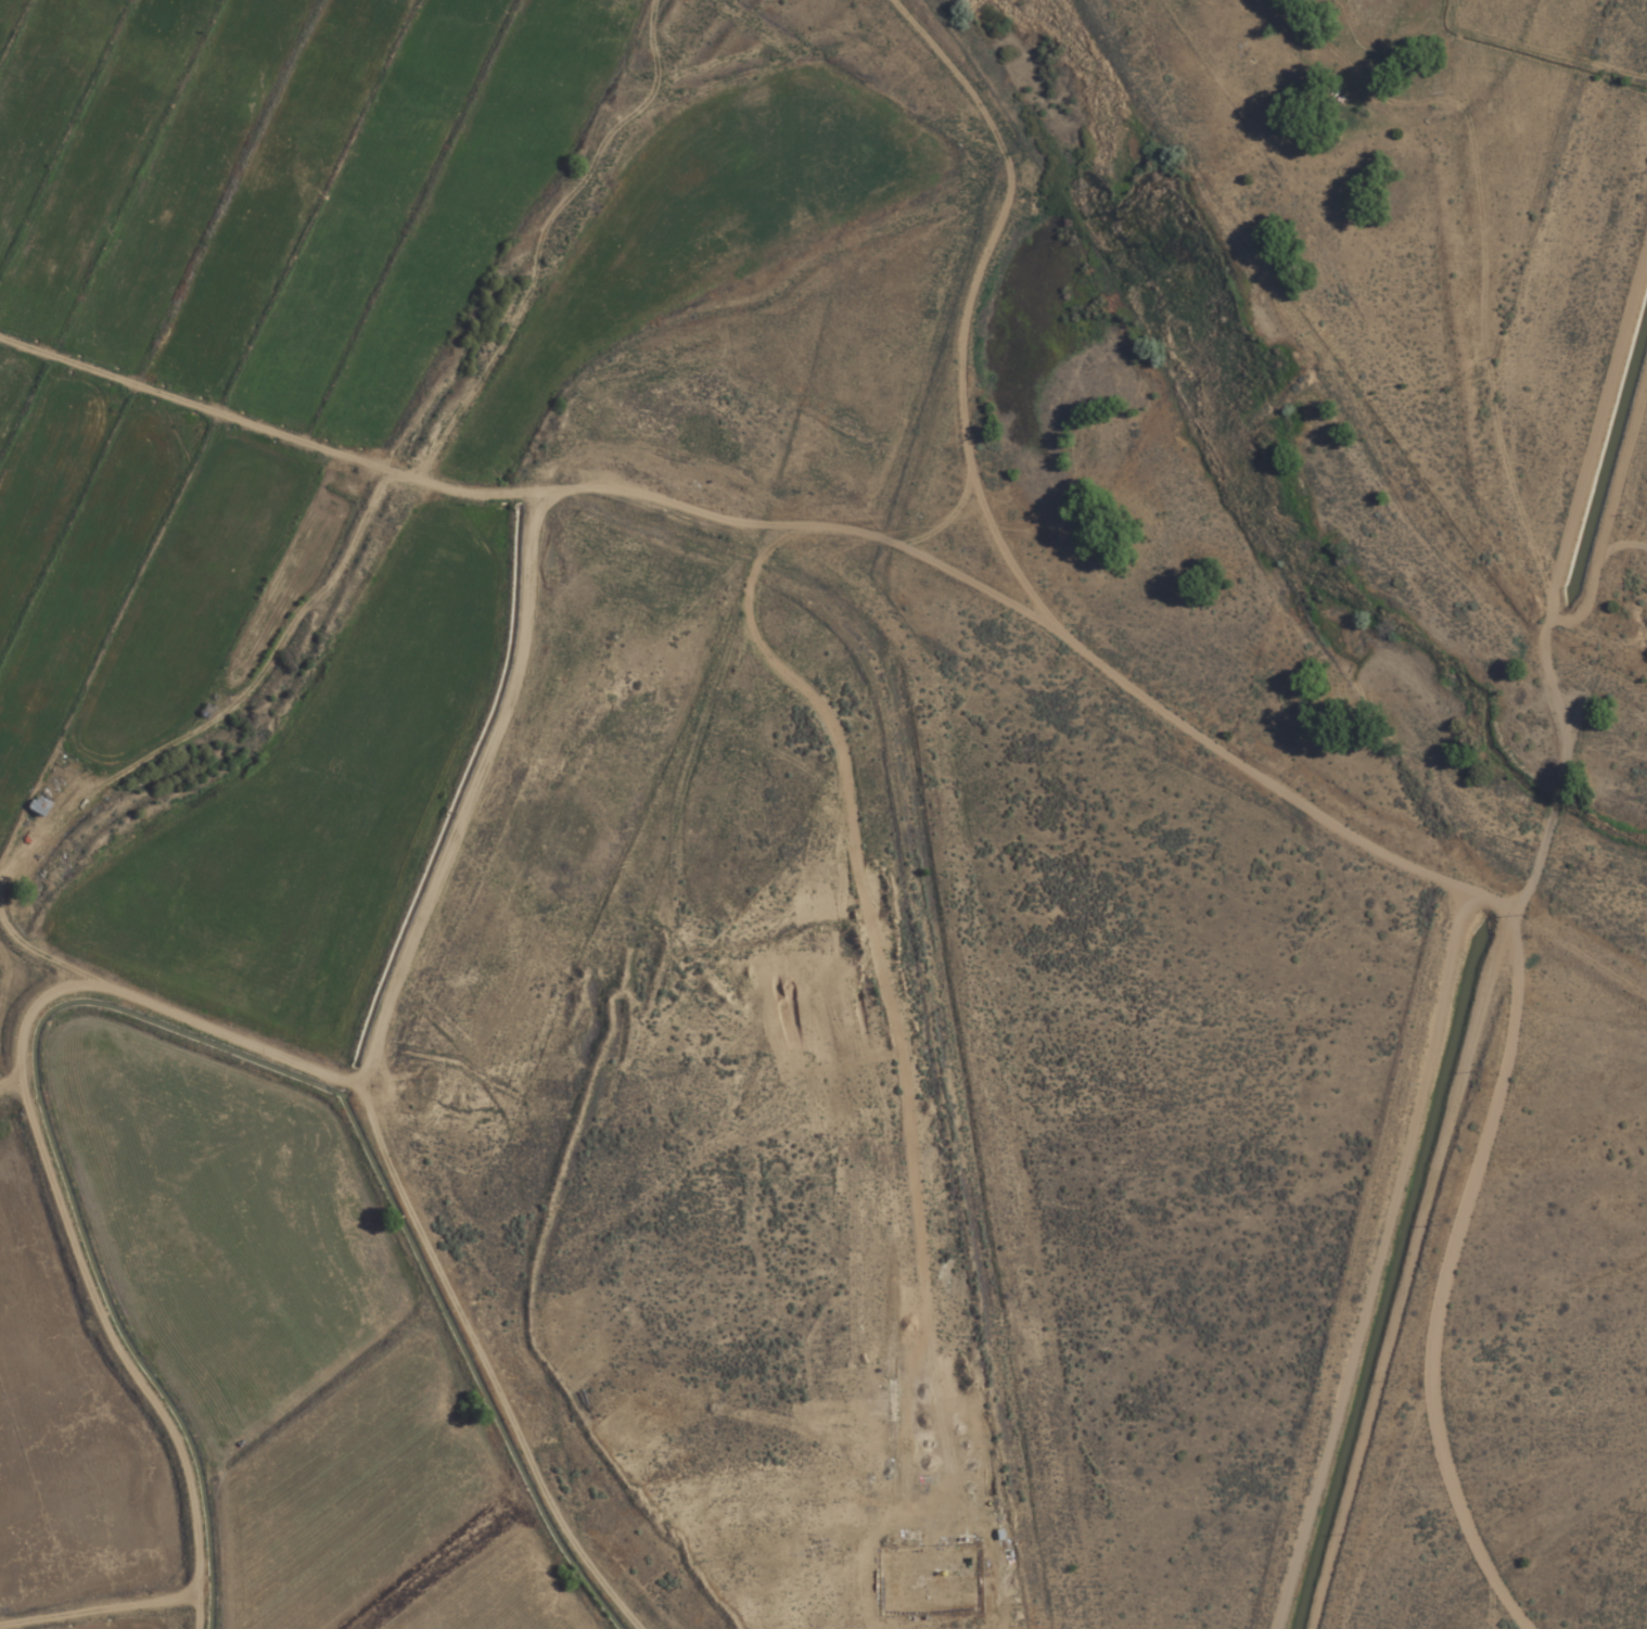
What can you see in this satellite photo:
river: (1264, 455)
building: (1007, 1617)

